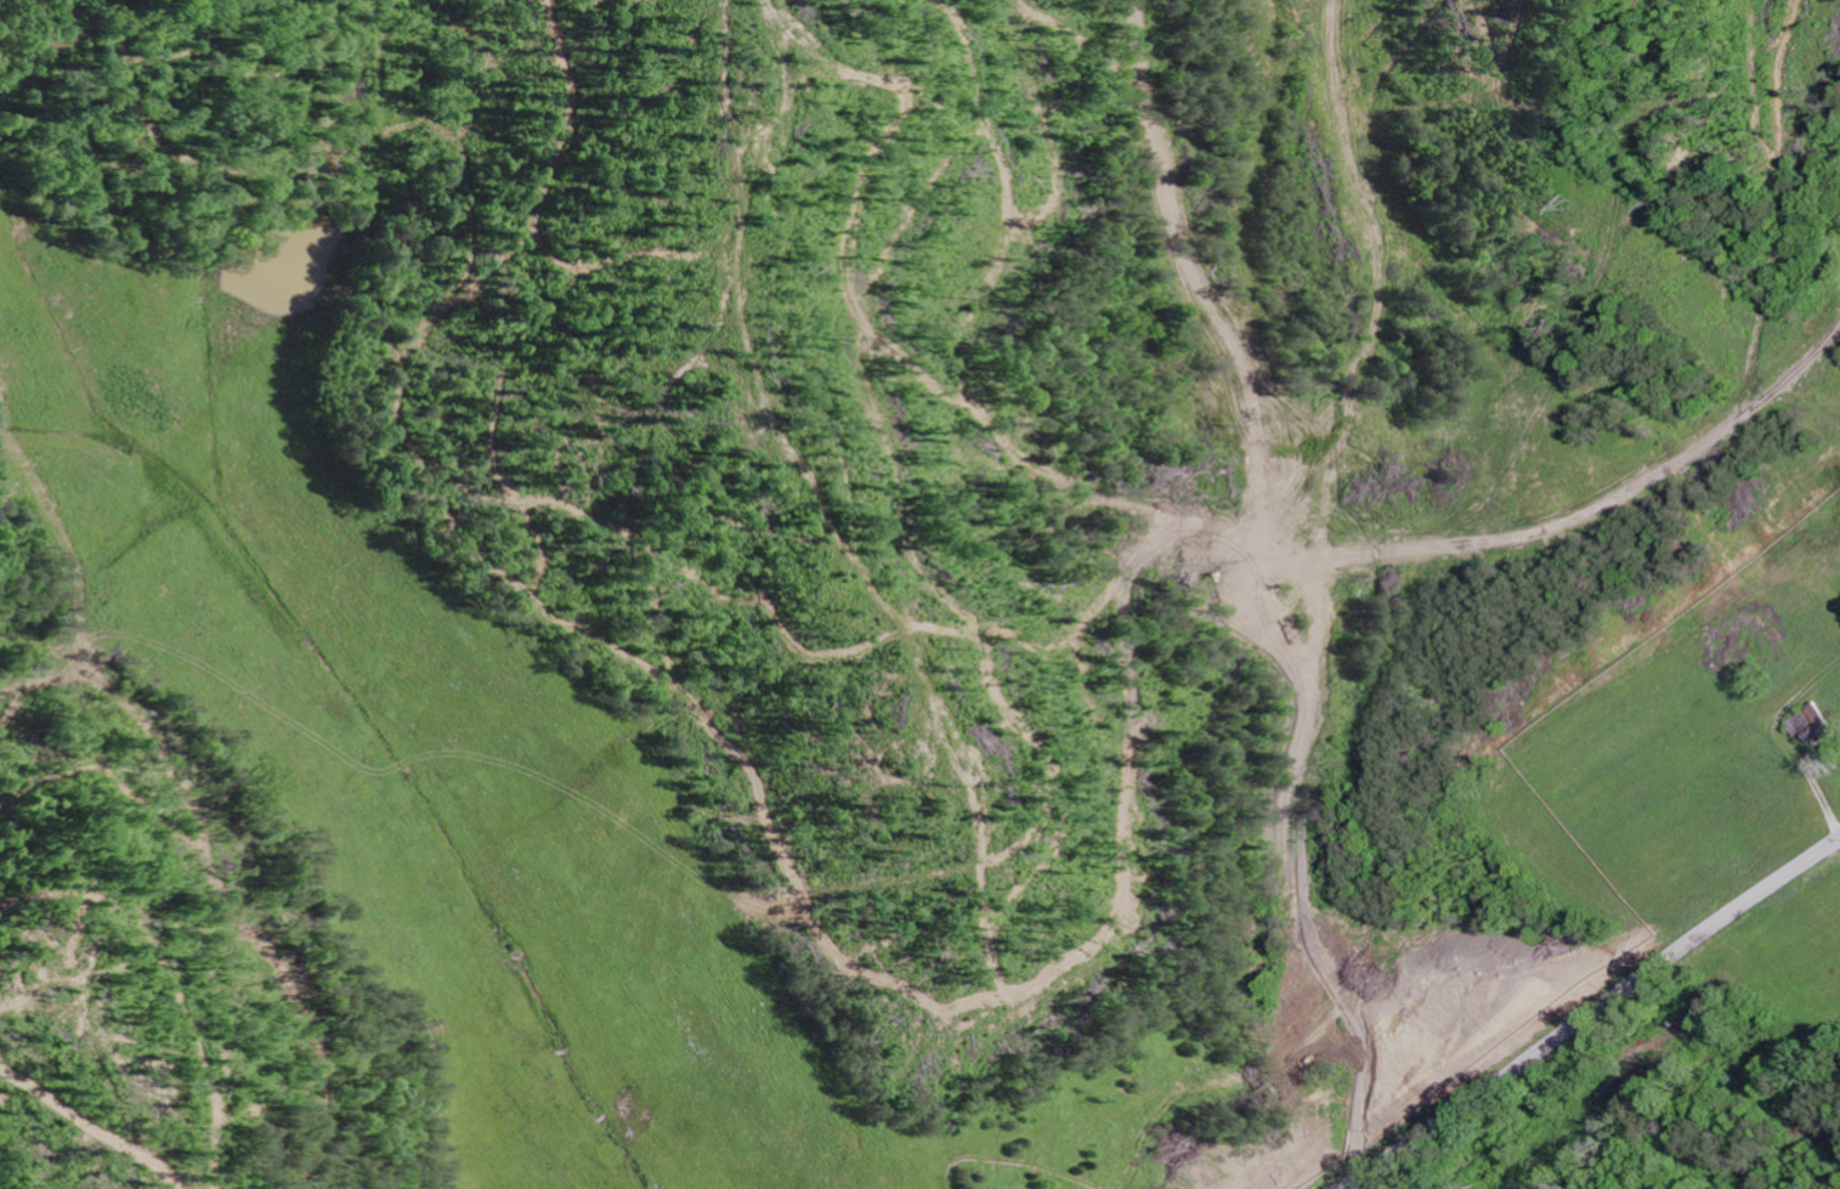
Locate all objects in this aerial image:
power tower: (1584, 202)
building: (1810, 725)
road: (1593, 1017)

